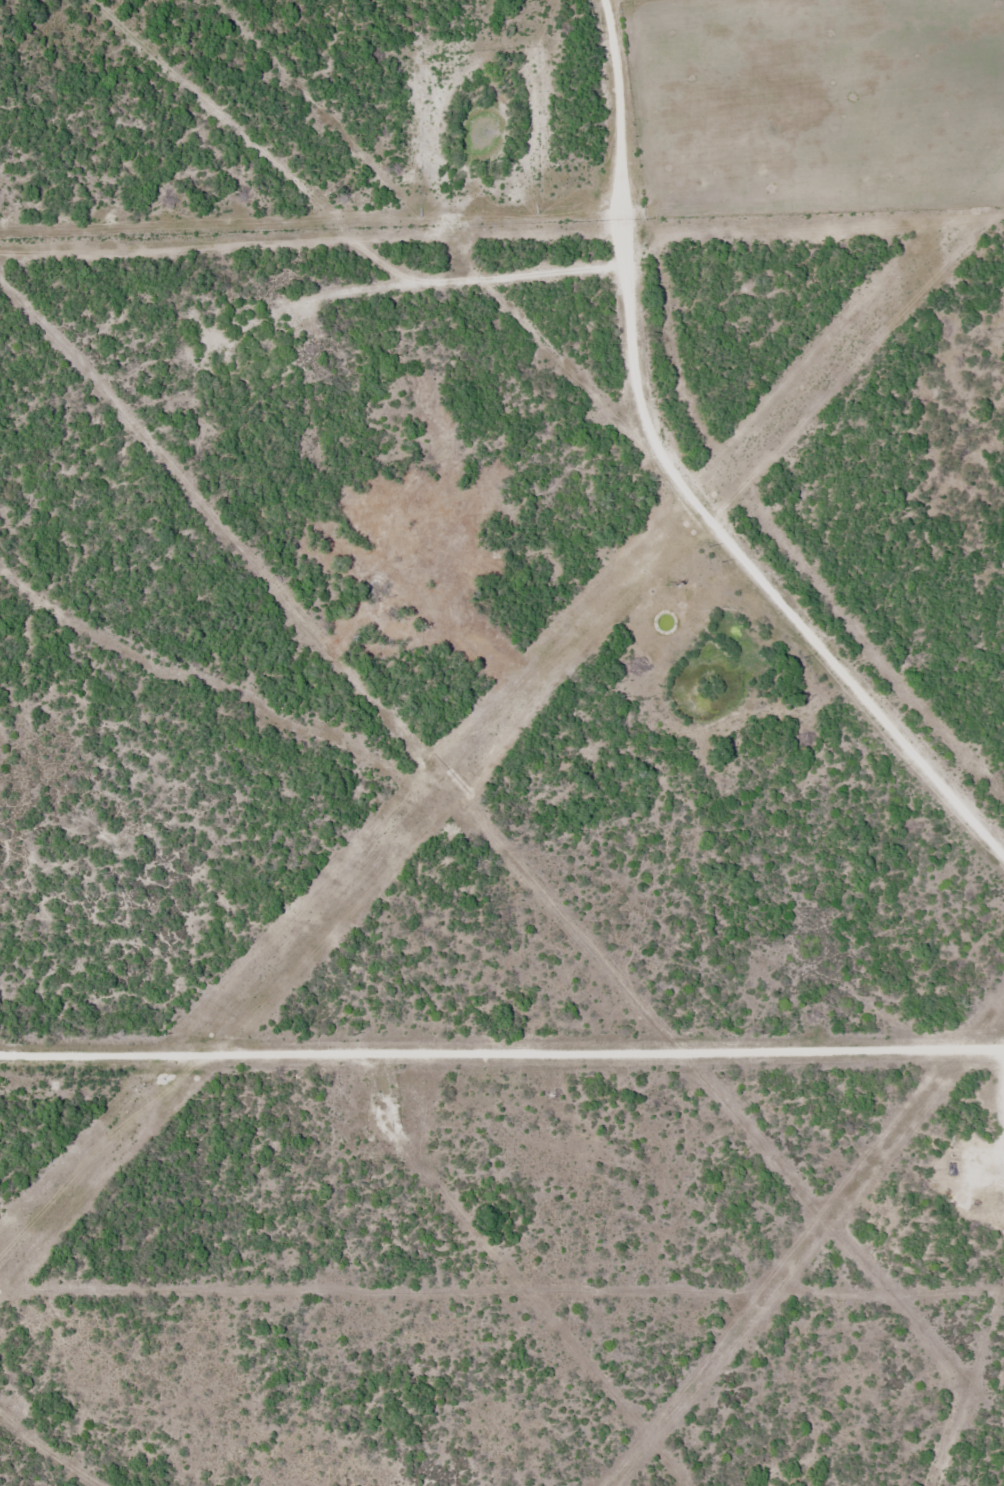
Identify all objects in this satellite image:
road: (668, 495)
road: (501, 1029)

